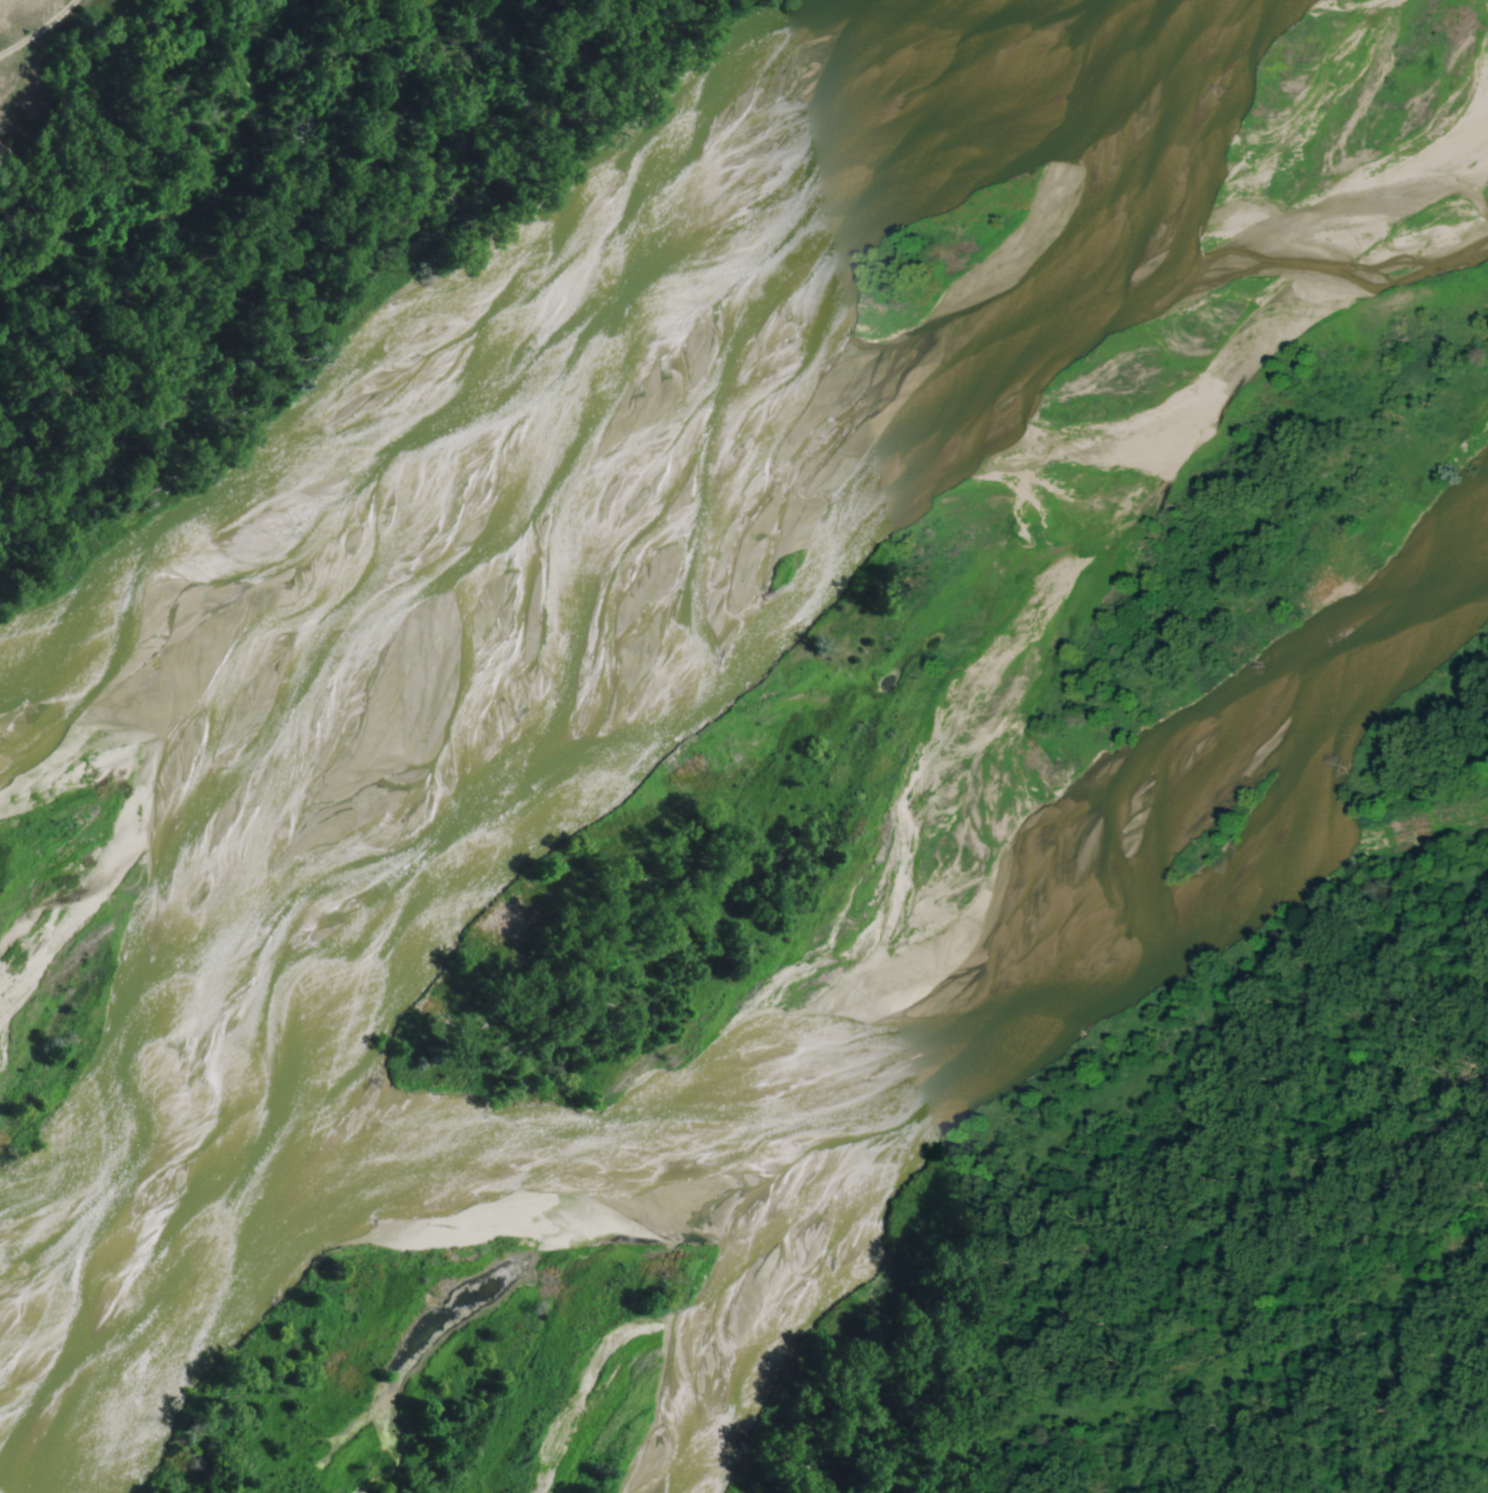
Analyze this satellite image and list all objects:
road: (39, 30)
river: (636, 647)

